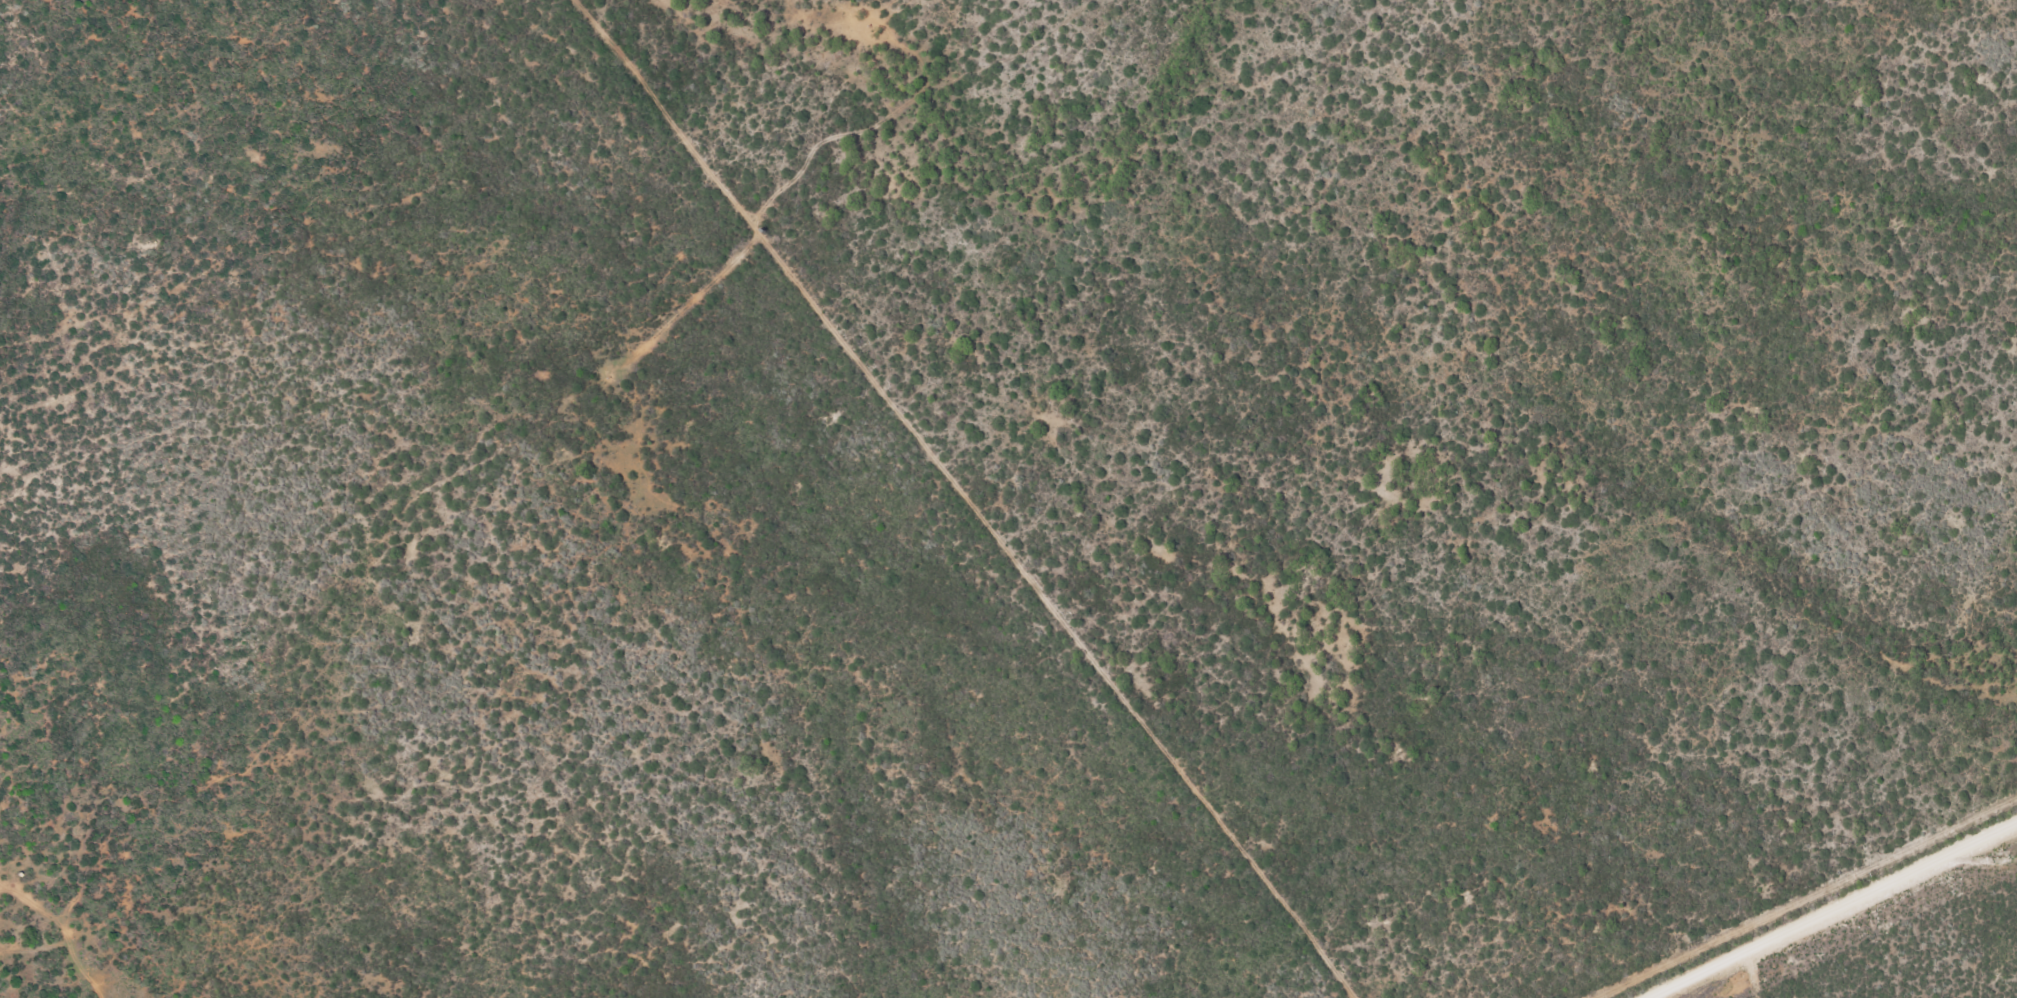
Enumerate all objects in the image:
road: (1832, 910)

